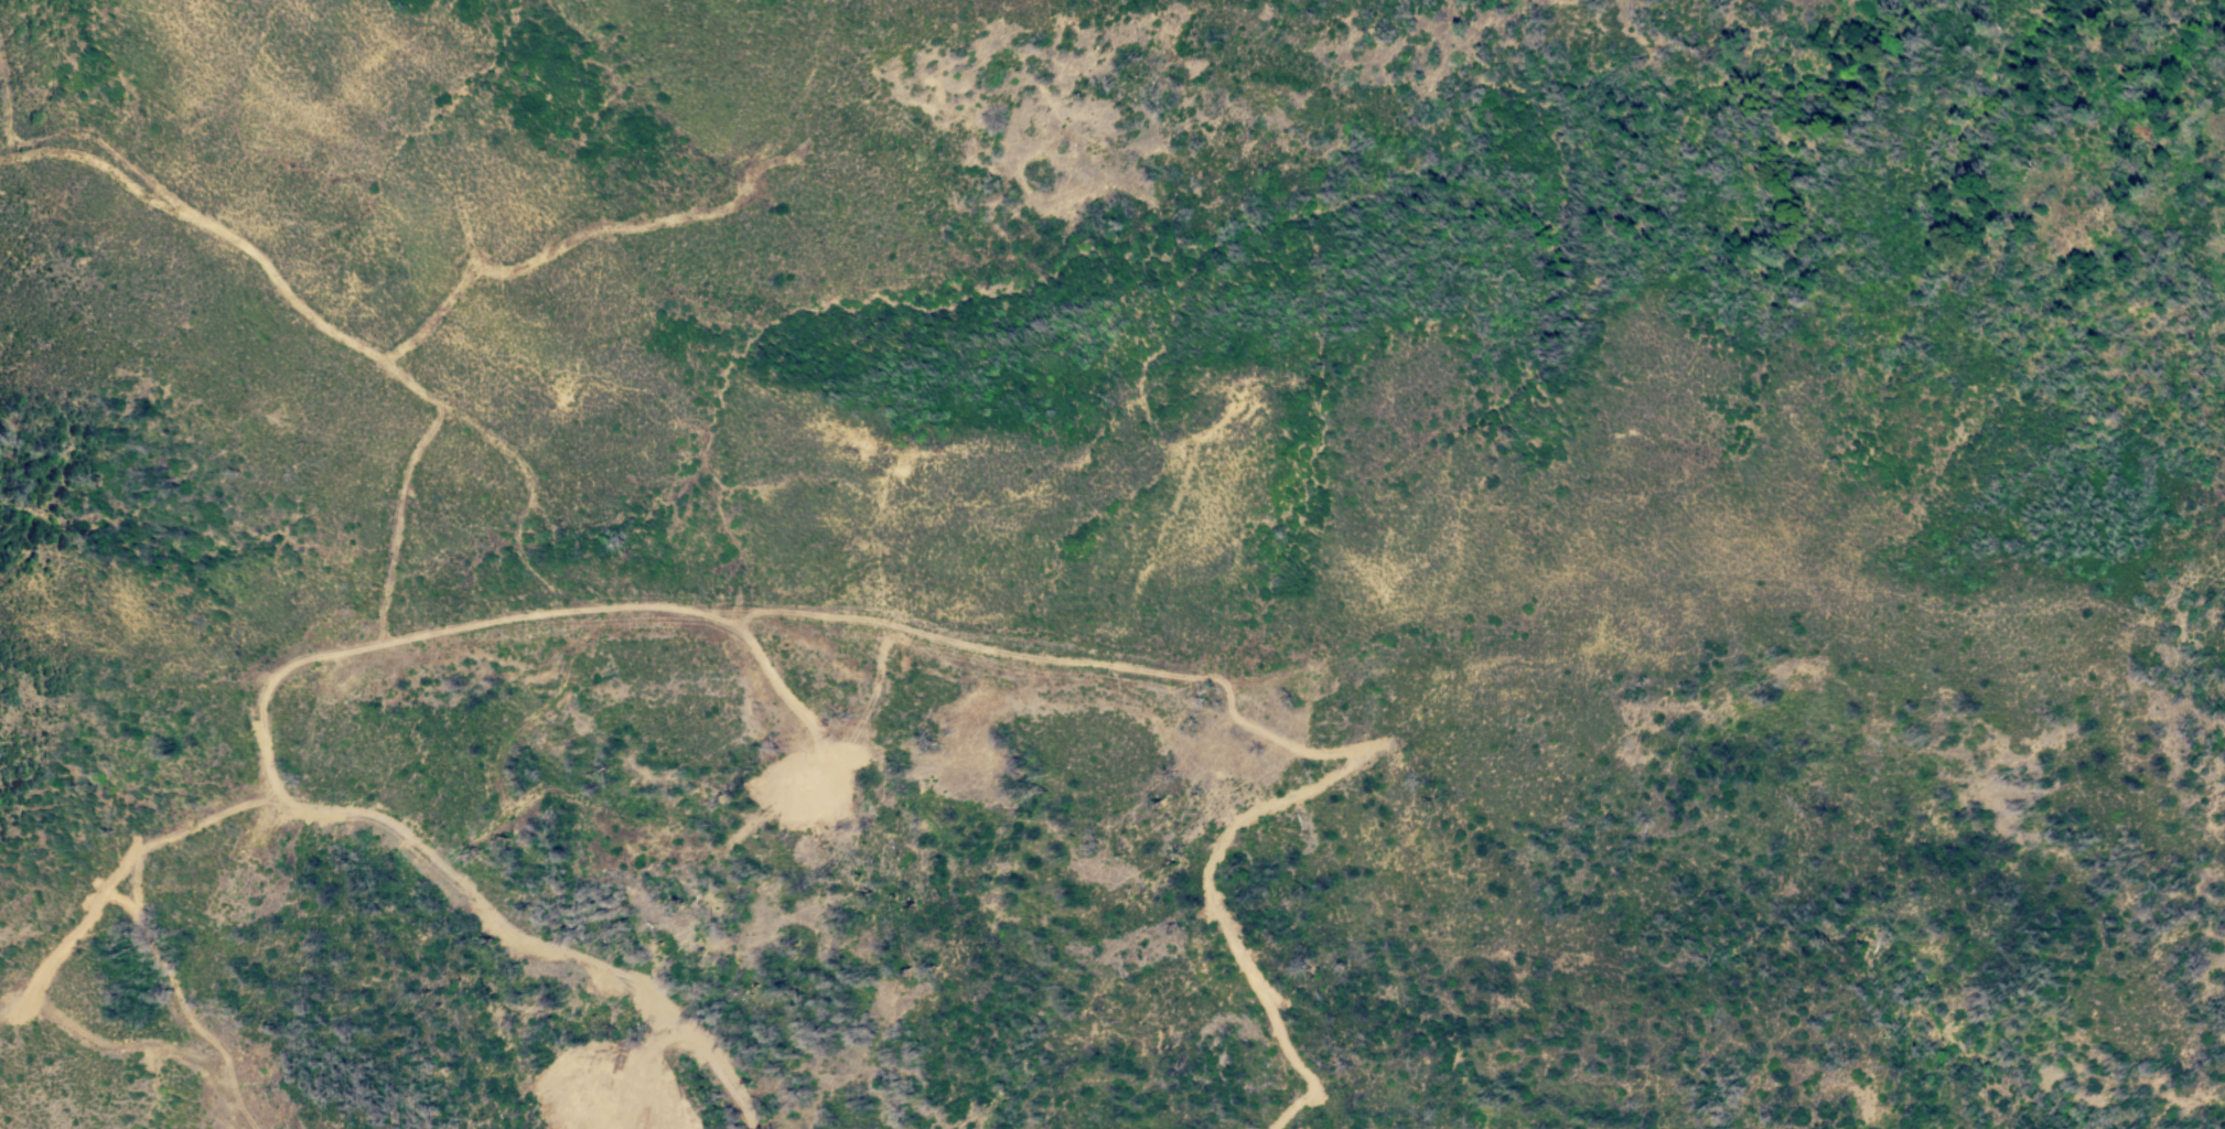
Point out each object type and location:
road: (559, 252)
road: (560, 593)
road: (375, 650)
road: (369, 810)
road: (101, 1036)

